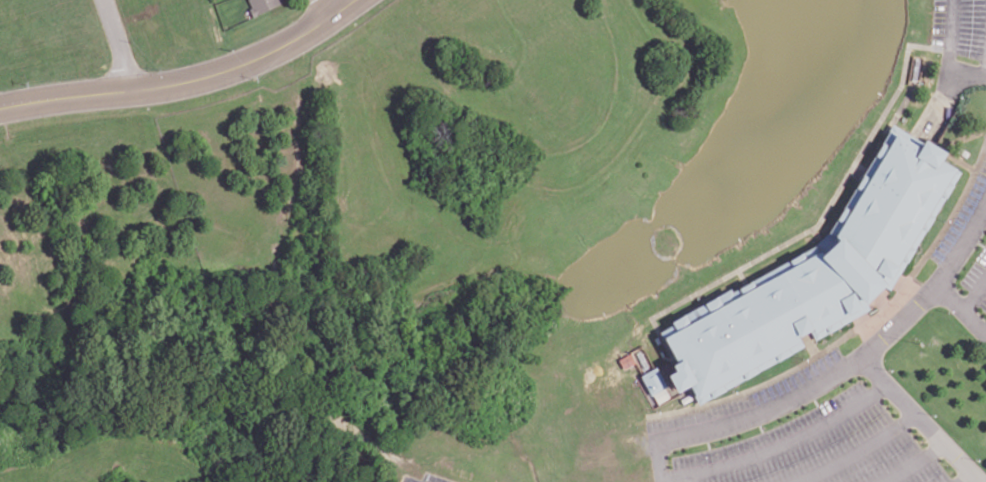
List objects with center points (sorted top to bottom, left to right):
building: (262, 5)
road: (328, 8)
parking lot: (960, 26)
road: (950, 38)
road: (120, 44)
road: (984, 66)
road: (186, 81)
road: (945, 90)
street lamp: (961, 96)
road: (962, 136)
building: (962, 150)
parking lot: (968, 239)
building: (815, 272)
road: (974, 293)
road: (884, 303)
road: (961, 307)
street lamp: (948, 310)
road: (860, 324)
flagpole: (922, 342)
road: (810, 343)
street lamp: (804, 357)
building: (627, 359)
street lamp: (889, 368)
road: (834, 373)
building: (654, 379)
street lamp: (733, 390)
building: (685, 397)
street lamp: (932, 414)
road: (921, 418)
parking lot: (792, 435)
road: (780, 445)
road: (858, 451)
street lamp: (975, 458)
road: (914, 462)
road: (964, 476)
parking lot: (427, 477)

